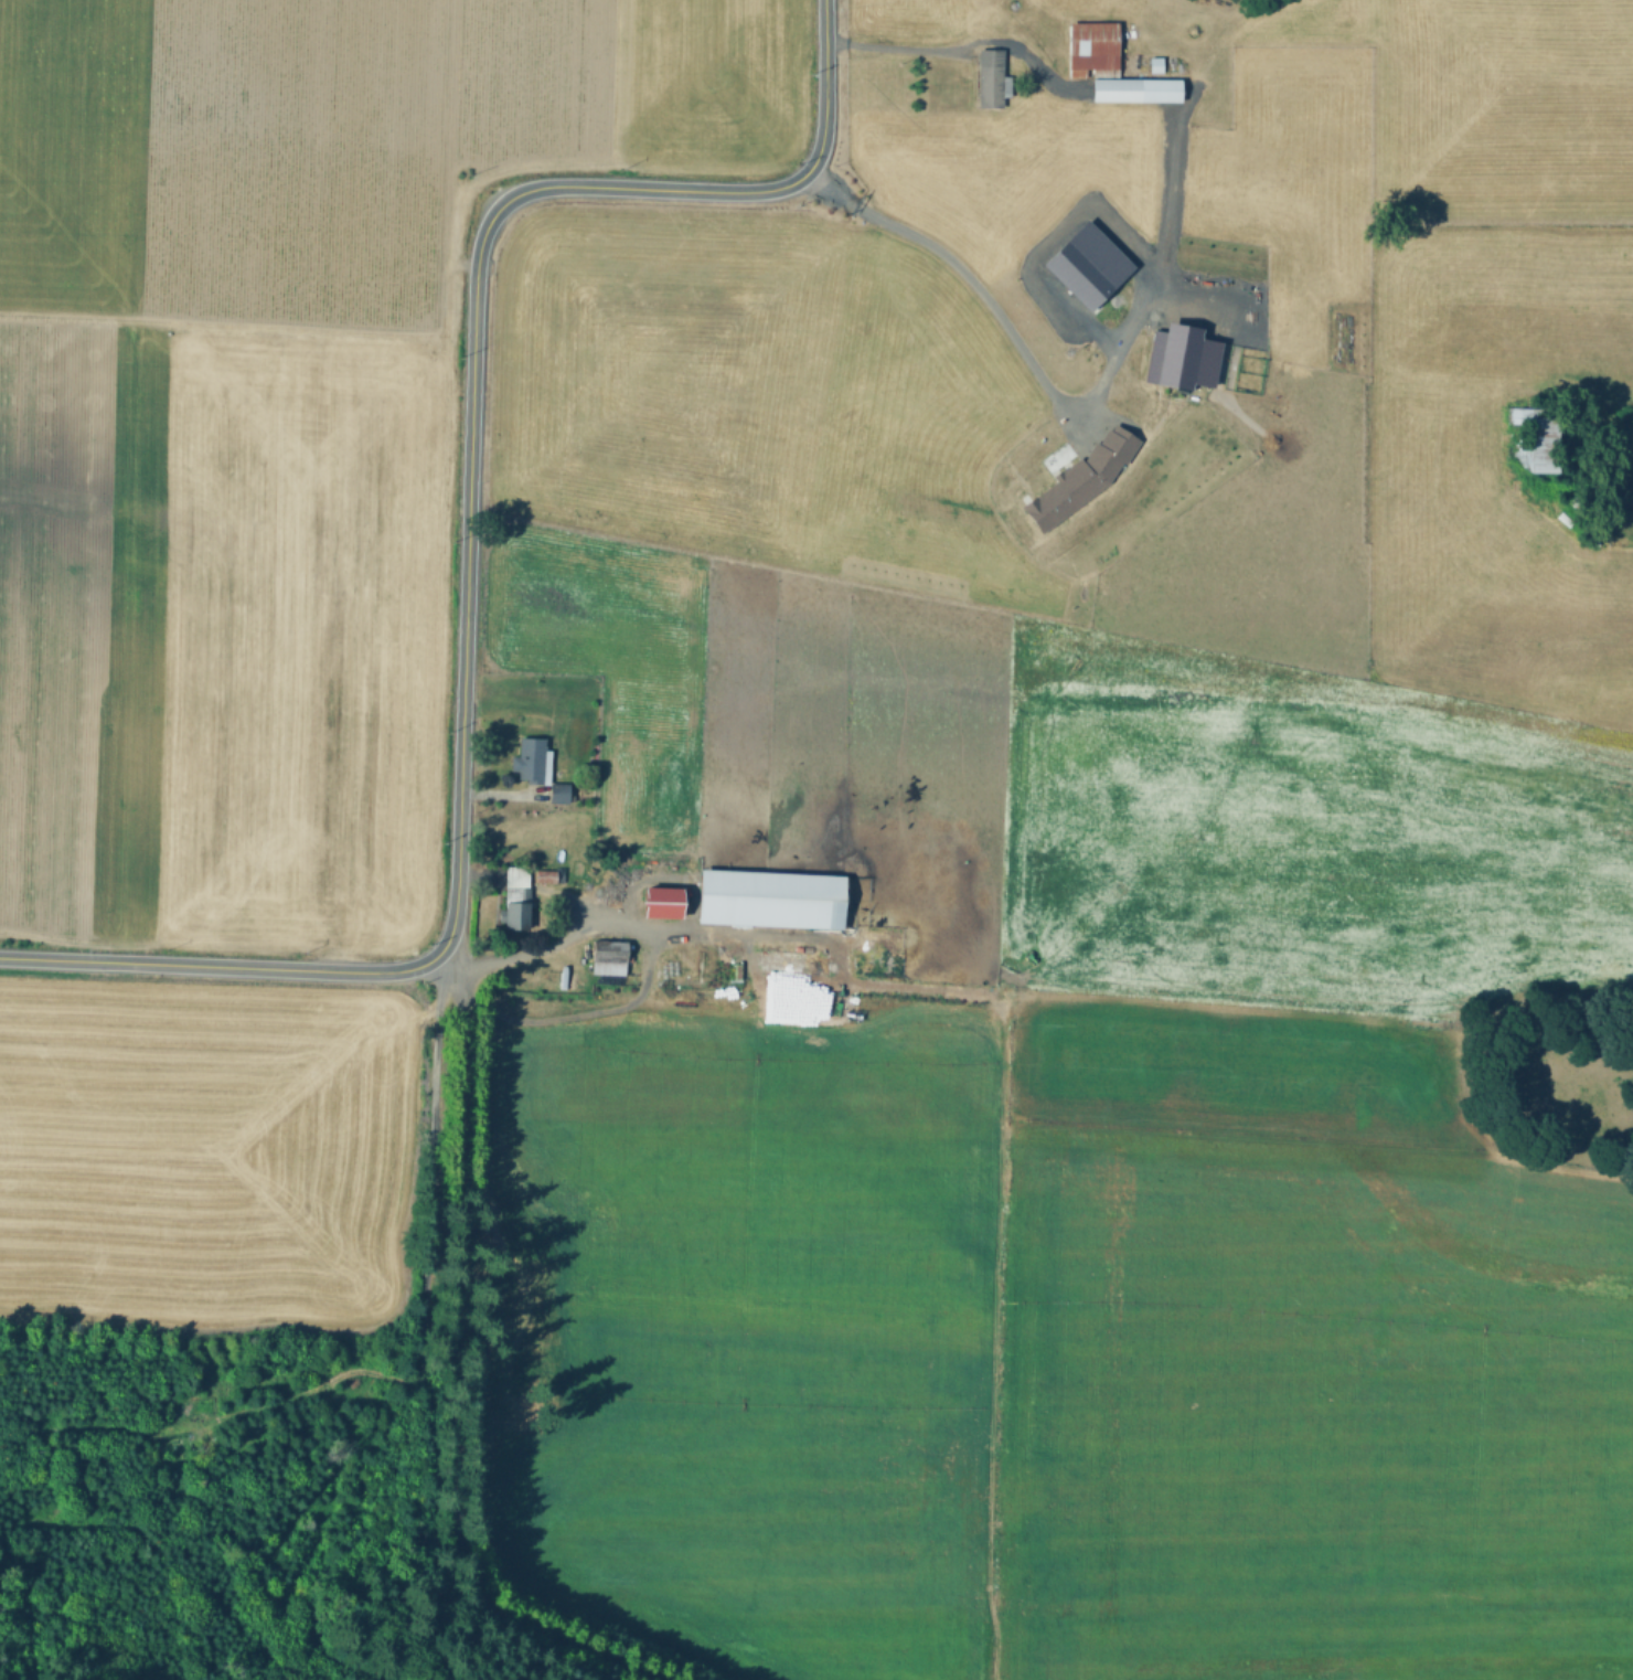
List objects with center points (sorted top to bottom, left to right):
road: (962, 40)
building: (1092, 51)
building: (1156, 66)
building: (990, 79)
building: (1136, 93)
building: (1085, 264)
road: (252, 322)
building: (1178, 355)
road: (1052, 393)
building: (1535, 438)
building: (1081, 475)
road: (468, 554)
building: (532, 757)
building: (561, 793)
road: (501, 794)
building: (546, 875)
building: (519, 899)
building: (771, 899)
building: (663, 903)
road: (601, 910)
road: (588, 913)
building: (609, 957)
building: (798, 961)
building: (697, 965)
road: (622, 1003)
road: (1191, 1008)
crop: (1045, 1095)
road: (430, 1327)
road: (1003, 1343)
road: (453, 1367)

